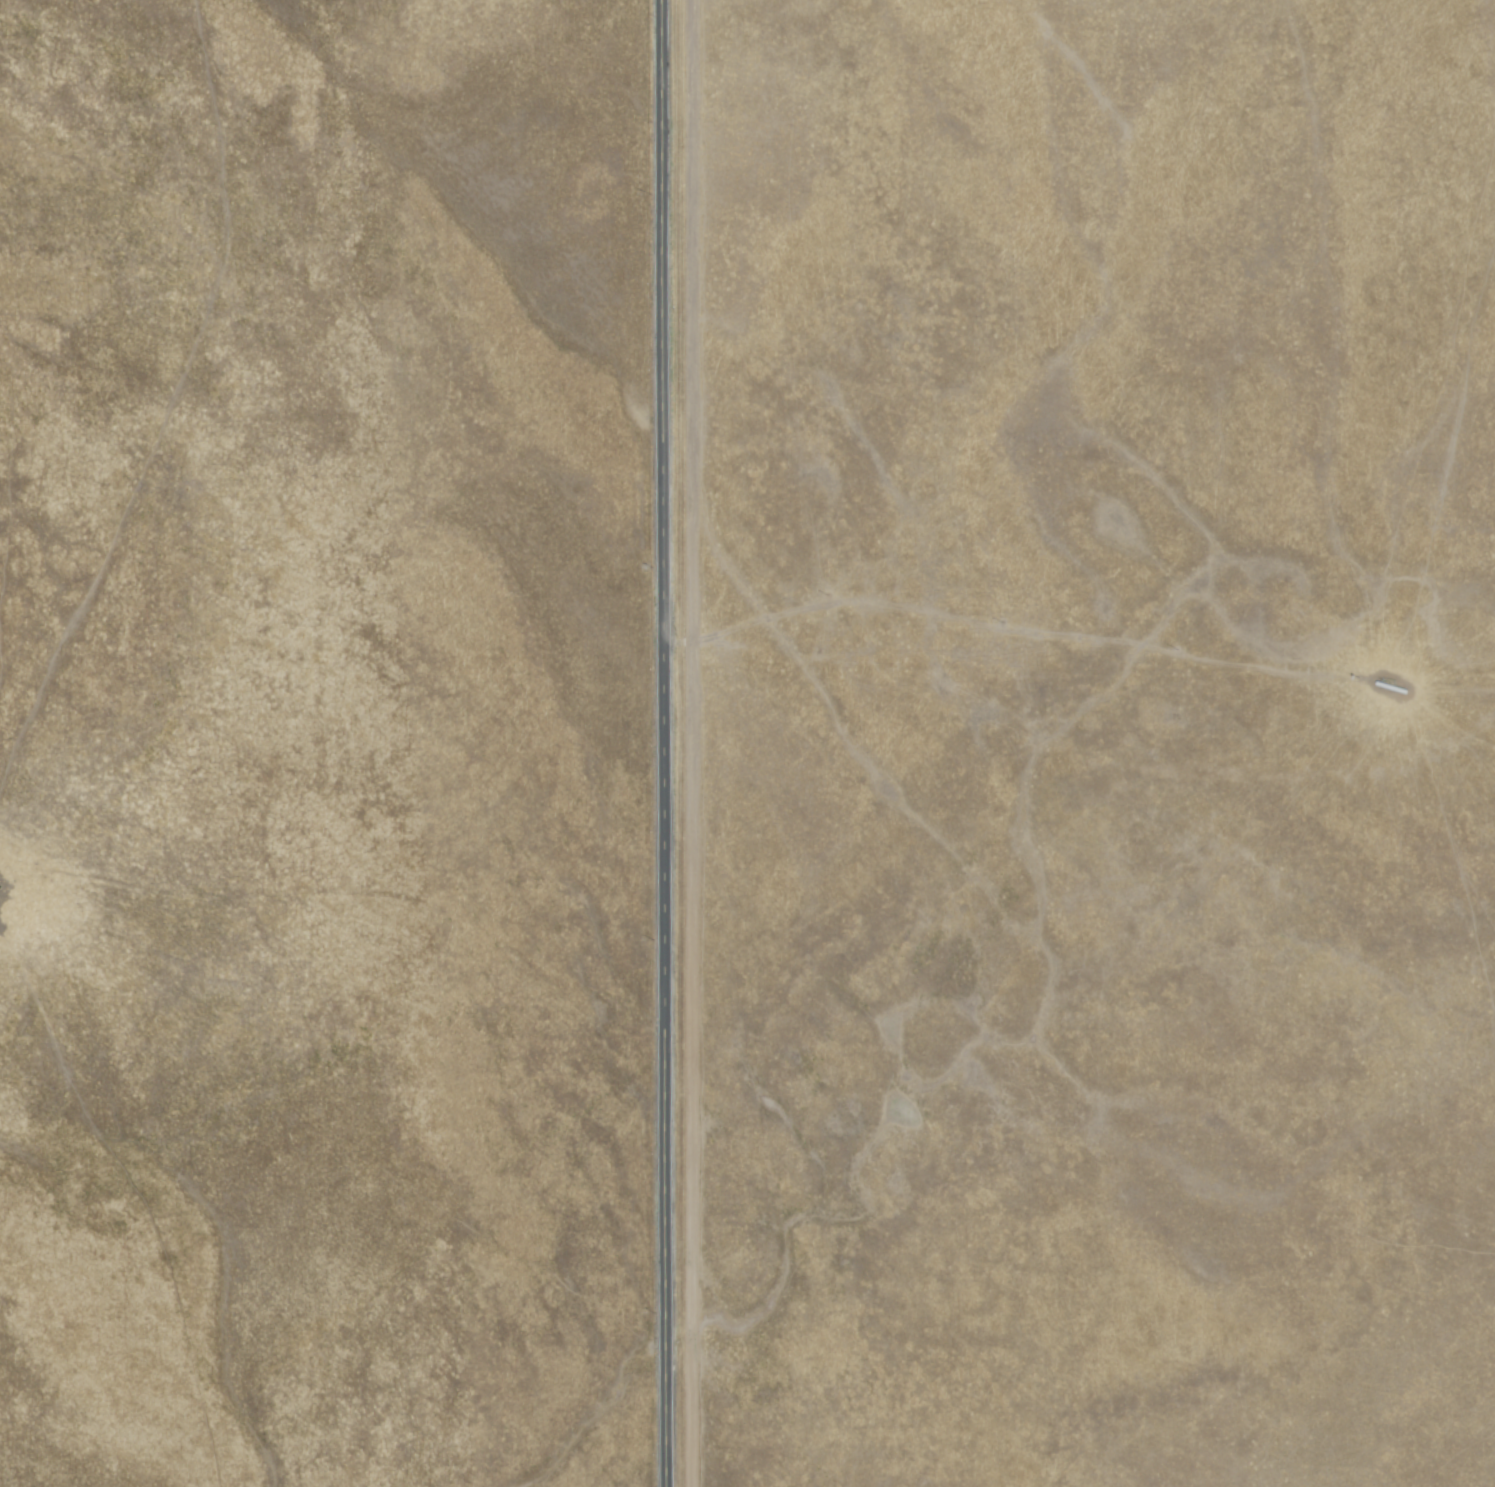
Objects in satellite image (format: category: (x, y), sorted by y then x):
road: (673, 743)

